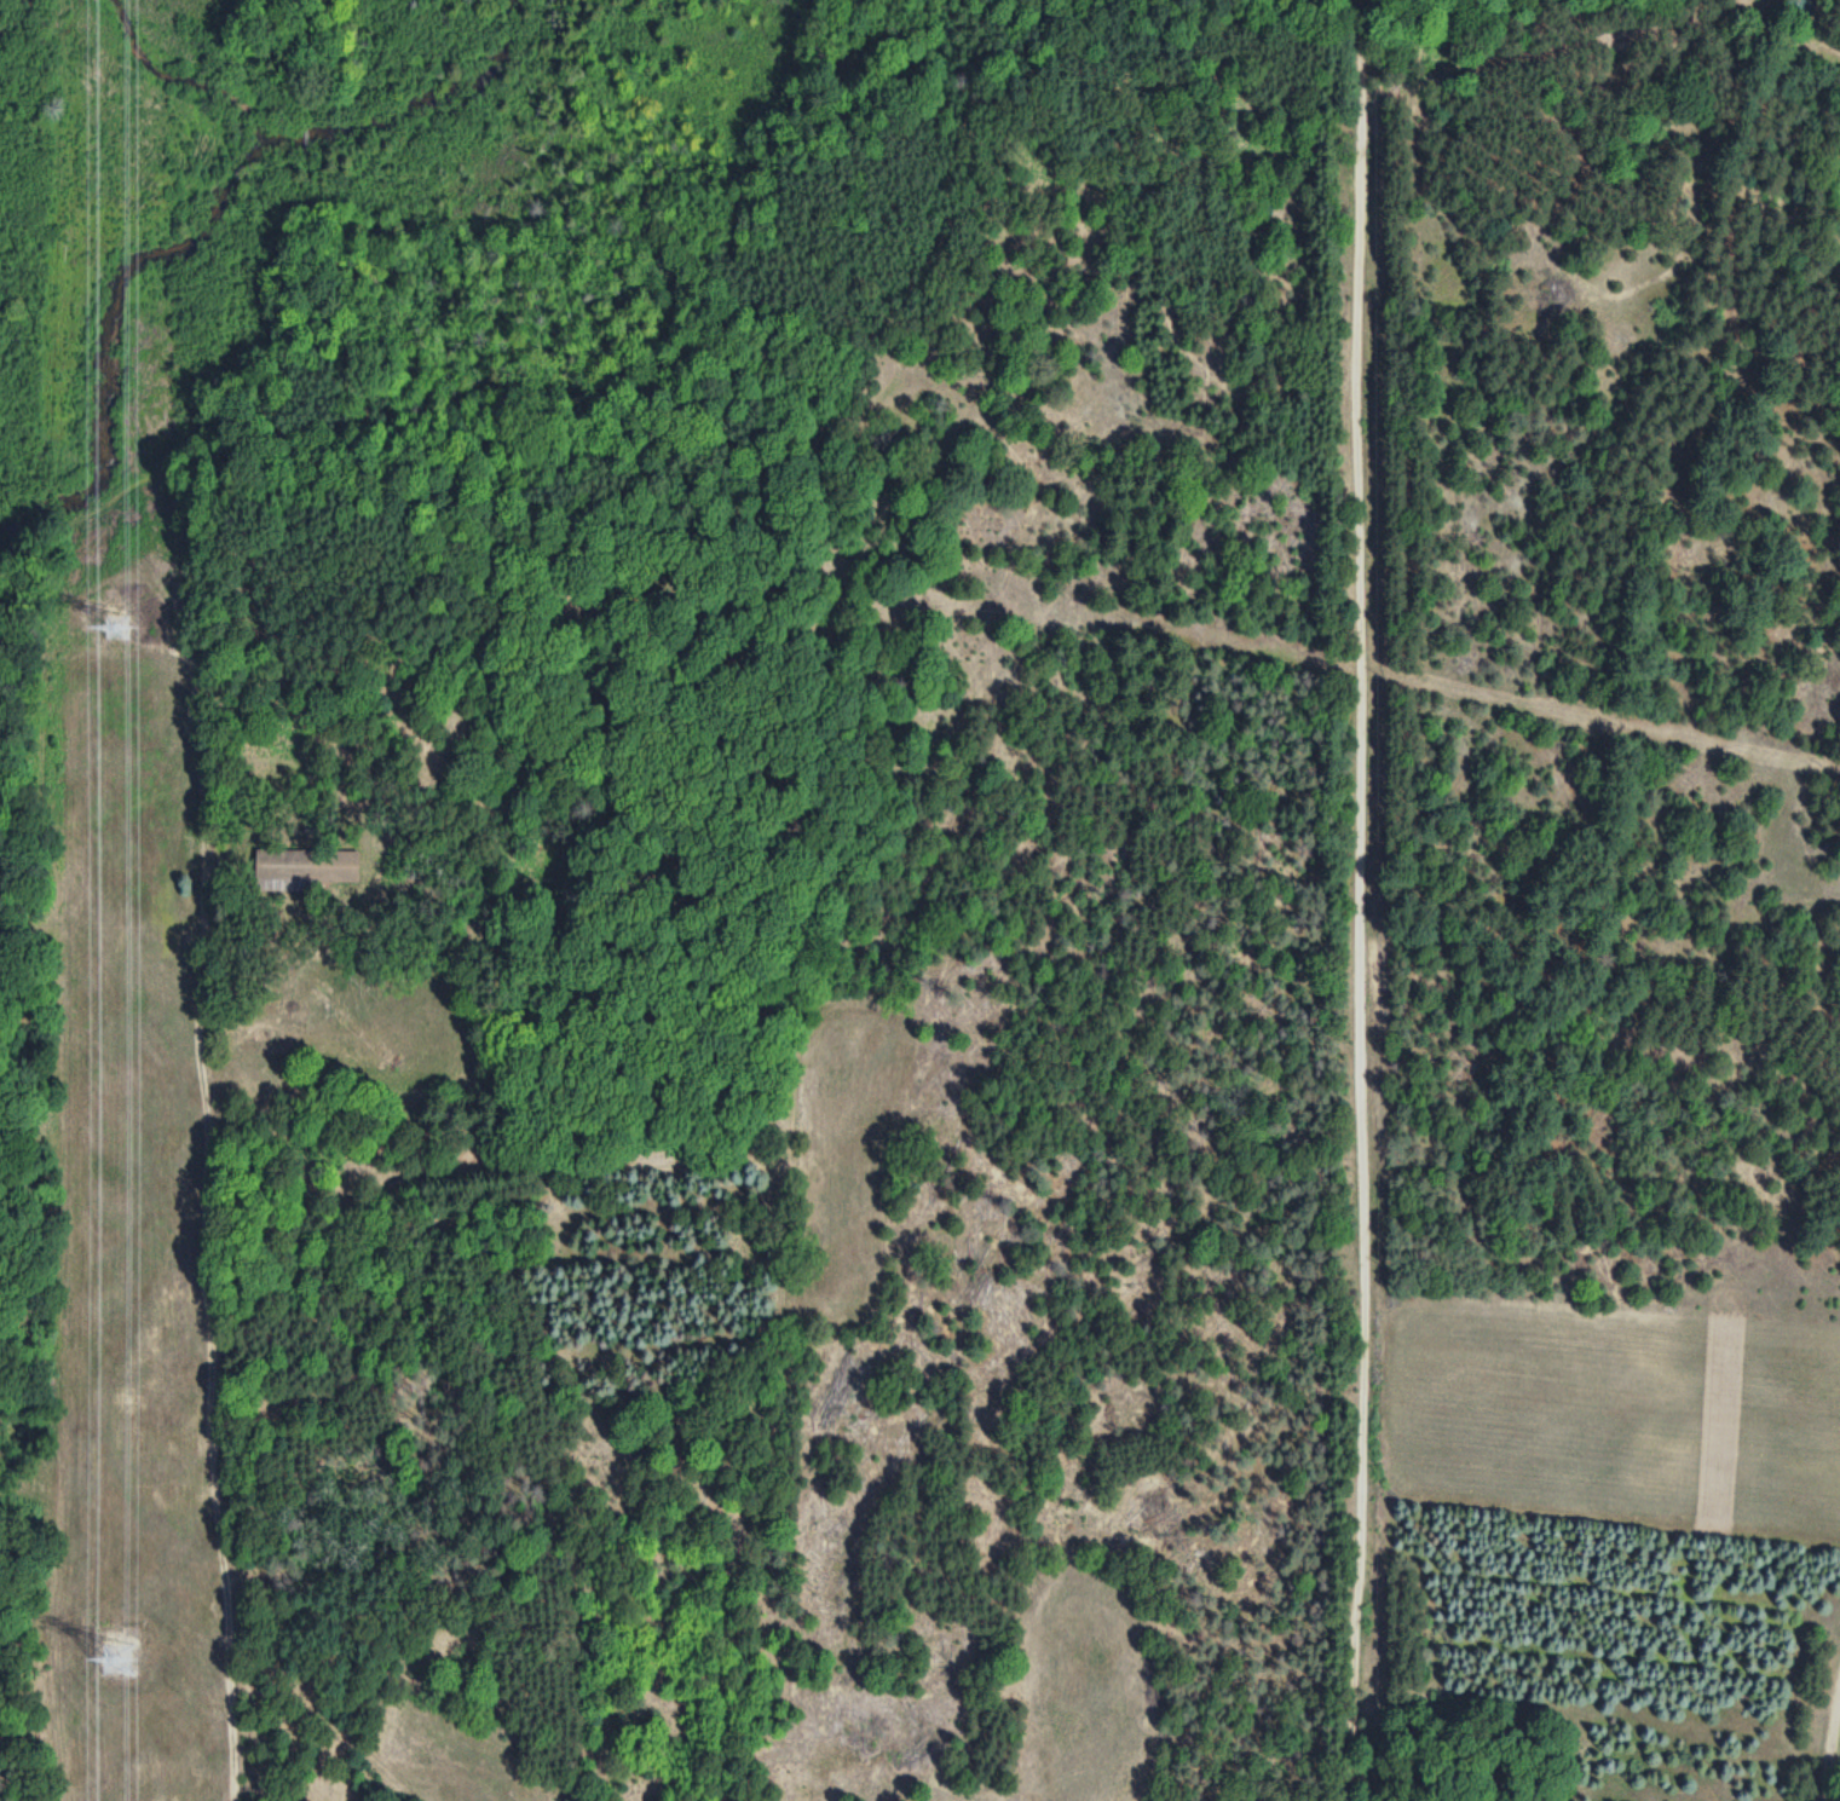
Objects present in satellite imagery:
road: (1802, 68)
river: (203, 223)
power tower: (123, 620)
building: (307, 870)
road: (1336, 902)
power tower: (123, 1652)
road: (1825, 1719)

